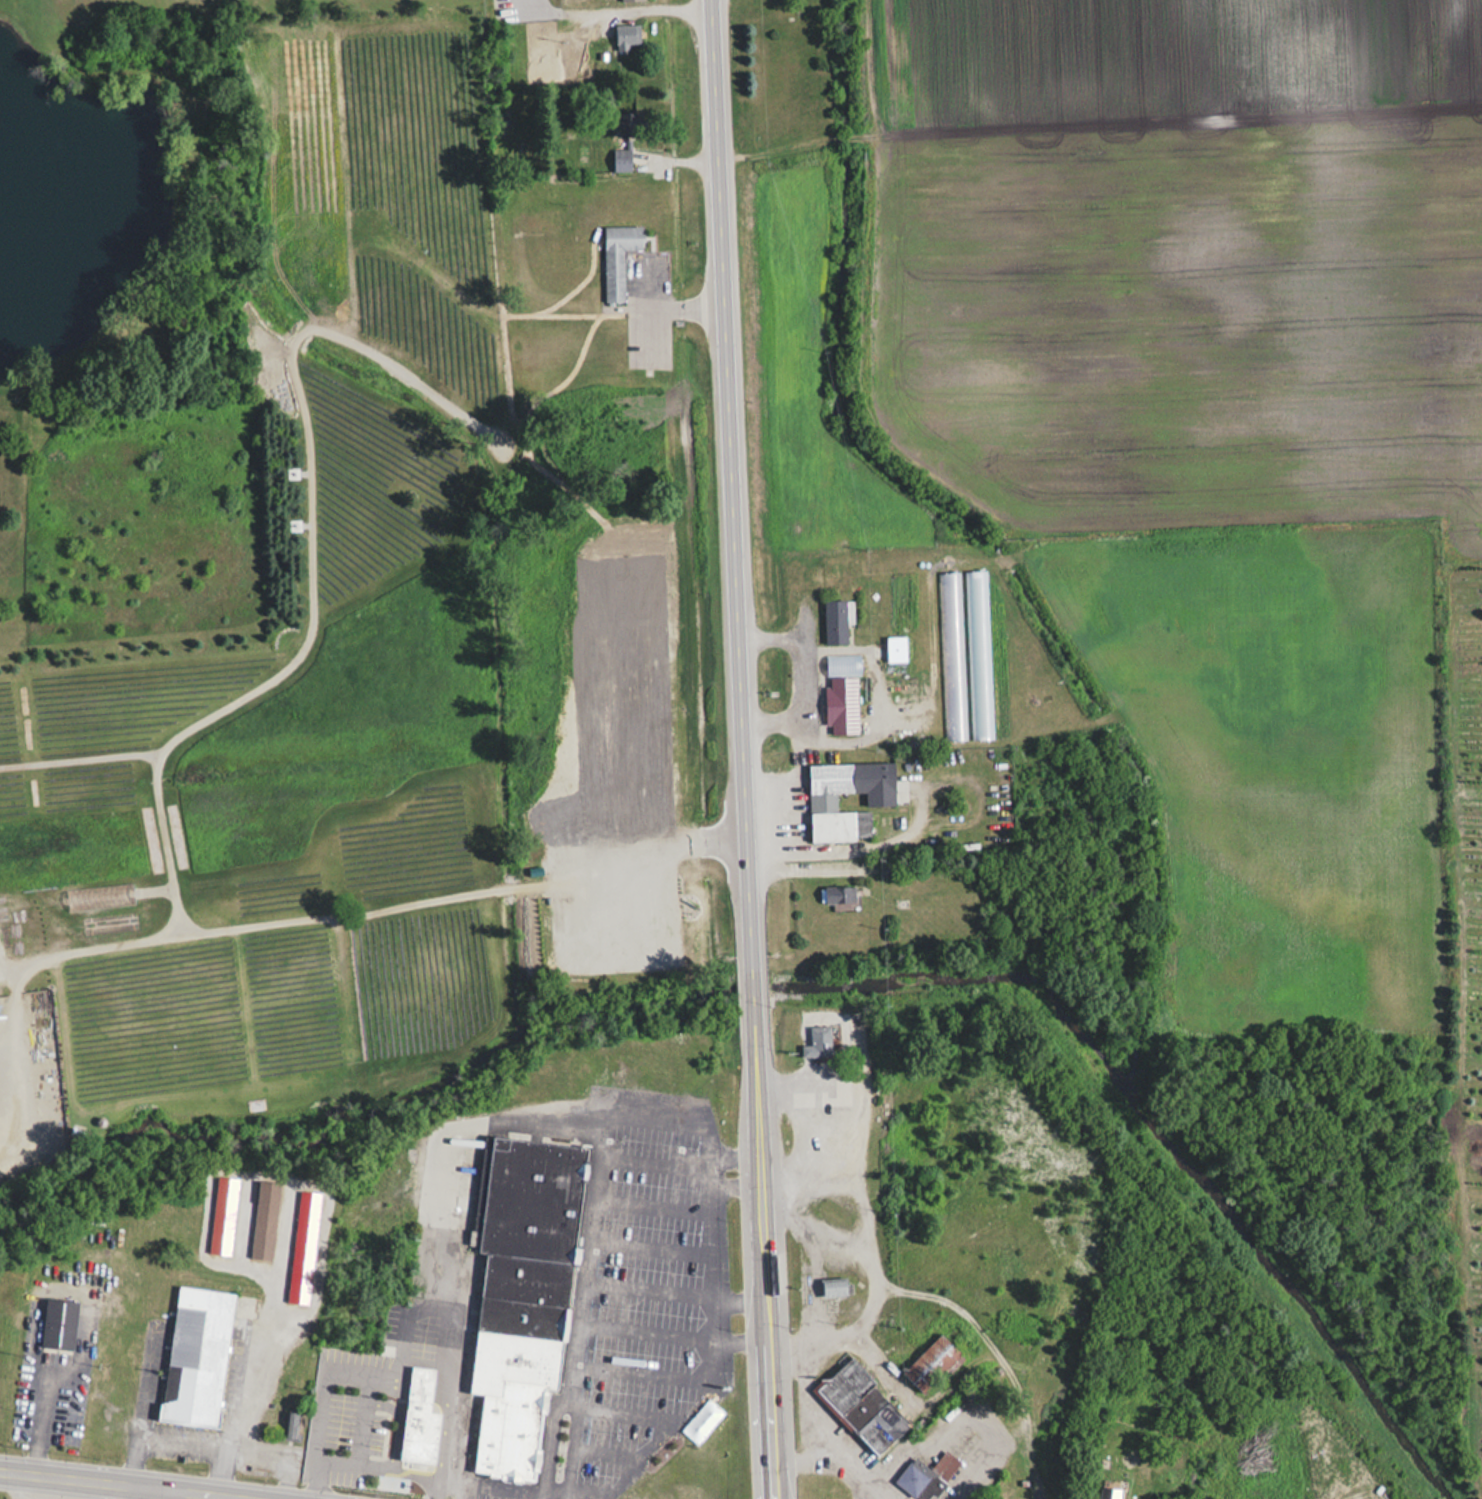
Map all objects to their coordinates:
building: (627, 0)
road: (623, 7)
building: (587, 32)
building: (626, 36)
building: (631, 124)
building: (621, 158)
building: (618, 257)
road: (664, 305)
road: (655, 327)
road: (731, 485)
road: (311, 549)
building: (974, 581)
building: (837, 621)
road: (789, 648)
building: (896, 649)
building: (842, 664)
road: (789, 747)
road: (625, 754)
road: (78, 759)
building: (879, 799)
building: (839, 894)
road: (290, 920)
road: (754, 982)
road: (755, 999)
building: (817, 1041)
road: (8, 1053)
road: (794, 1134)
road: (743, 1185)
building: (222, 1214)
building: (263, 1218)
road: (600, 1226)
road: (724, 1244)
building: (302, 1246)
road: (765, 1251)
road: (799, 1279)
building: (835, 1287)
building: (532, 1293)
road: (747, 1297)
building: (59, 1323)
building: (196, 1356)
road: (255, 1361)
building: (932, 1363)
road: (135, 1403)
building: (862, 1405)
road: (807, 1418)
building: (430, 1419)
building: (290, 1425)
road: (196, 1441)
road: (552, 1445)
road: (455, 1448)
road: (572, 1448)
road: (272, 1451)
building: (944, 1464)
road: (363, 1465)
road: (843, 1471)
road: (133, 1480)
building: (918, 1480)
road: (557, 1486)
road: (872, 1489)
road: (155, 1491)
building: (1109, 1493)

